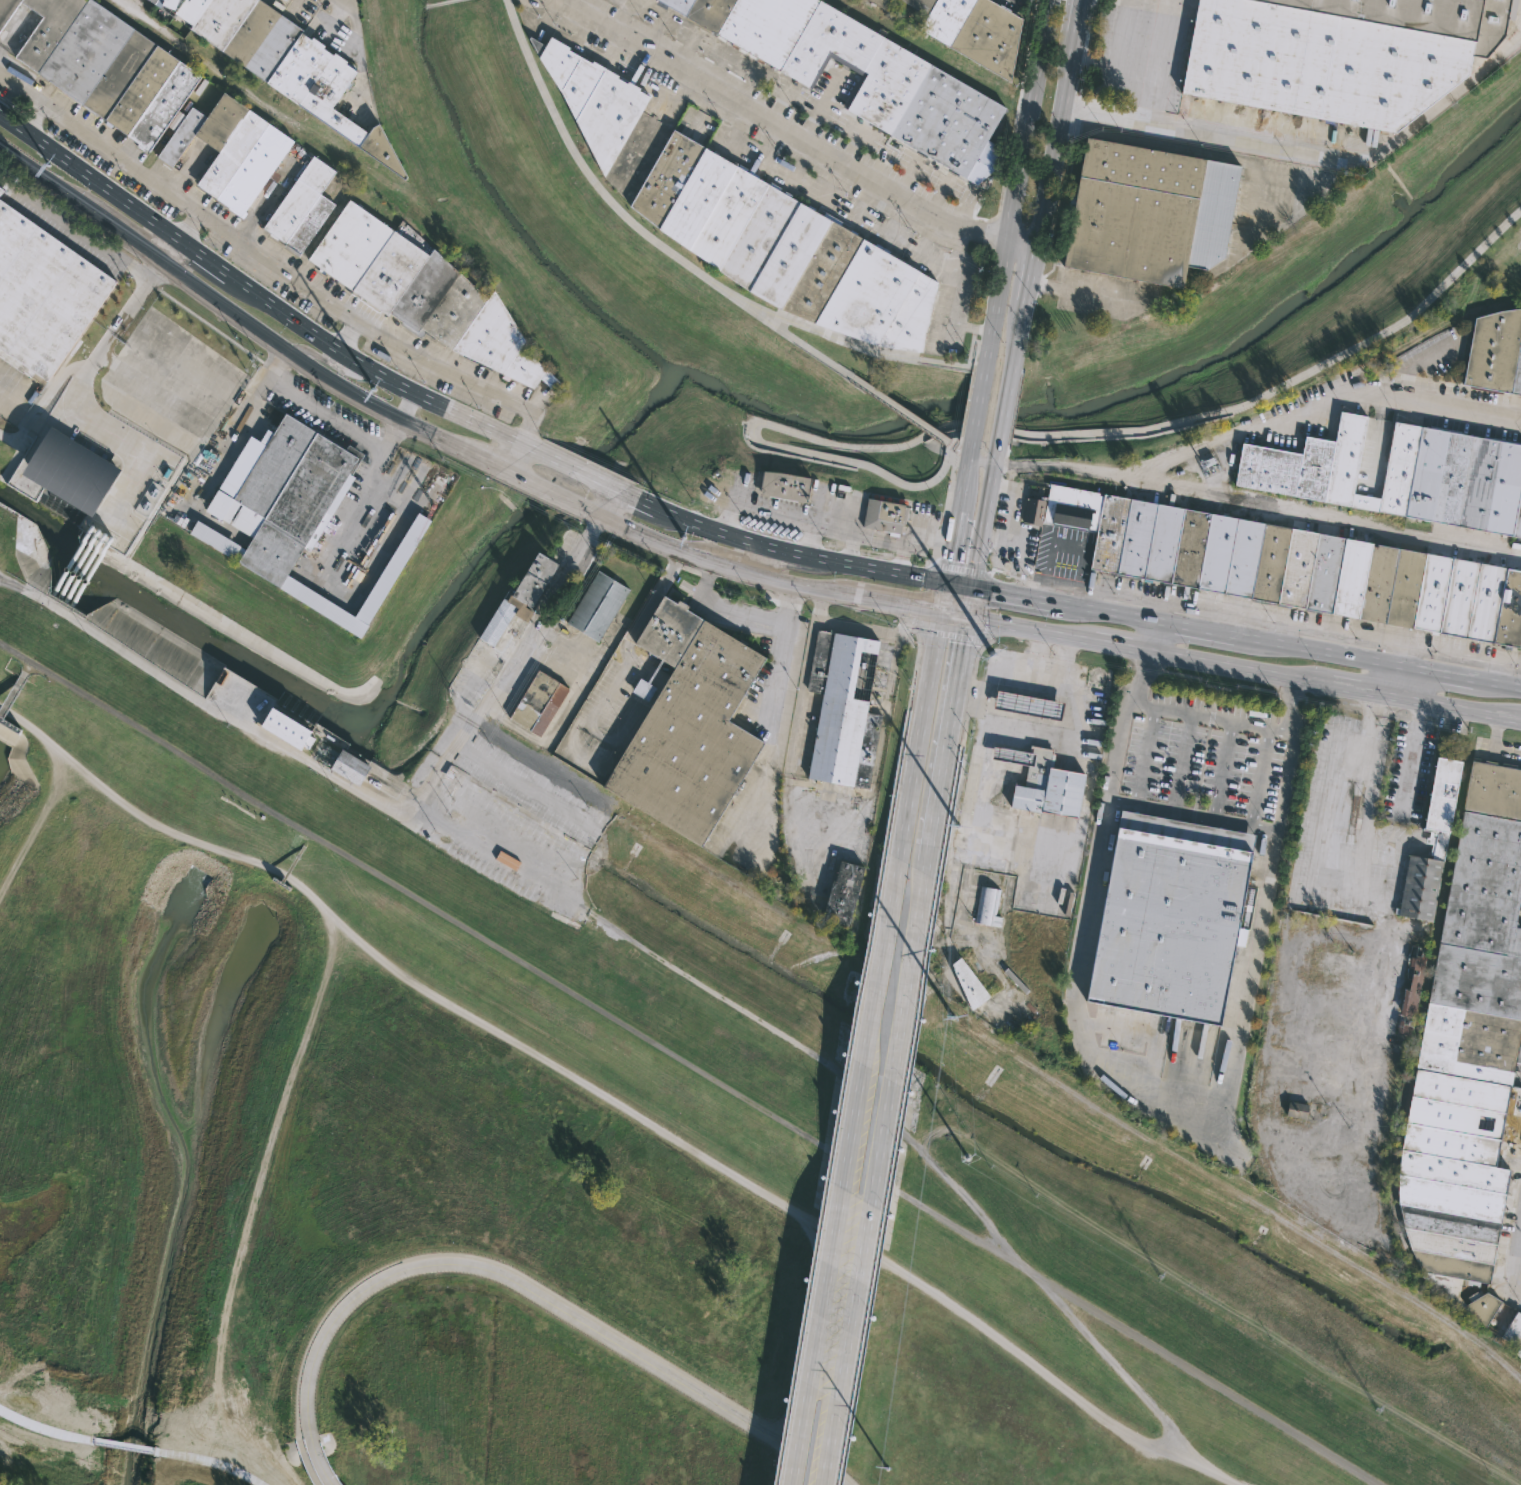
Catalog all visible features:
building: (152, 1)
building: (877, 3)
building: (1511, 9)
building: (7, 11)
building: (237, 29)
building: (970, 30)
road: (1160, 47)
building: (1338, 54)
road: (1112, 64)
building: (110, 67)
building: (866, 75)
road: (1460, 86)
road: (22, 88)
building: (326, 94)
building: (598, 97)
road: (781, 106)
road: (821, 109)
road: (1148, 111)
road: (791, 137)
road: (1233, 144)
road: (107, 148)
building: (234, 149)
power tower: (46, 164)
road: (1018, 183)
road: (1047, 186)
road: (599, 191)
building: (305, 205)
building: (1142, 210)
building: (787, 247)
road: (170, 248)
road: (264, 258)
building: (44, 293)
road: (262, 293)
building: (424, 293)
road: (135, 298)
road: (254, 326)
road: (800, 340)
road: (976, 346)
building: (1494, 352)
road: (885, 353)
road: (332, 364)
road: (445, 371)
power tower: (373, 388)
road: (889, 401)
road: (40, 402)
road: (966, 402)
road: (977, 402)
road: (8, 406)
road: (1457, 406)
road: (1004, 407)
road: (327, 415)
road: (1041, 435)
road: (1195, 446)
road: (955, 456)
road: (510, 458)
road: (981, 459)
building: (1303, 464)
building: (67, 465)
road: (580, 473)
road: (964, 473)
building: (1451, 479)
building: (785, 486)
road: (946, 495)
road: (639, 498)
road: (564, 499)
building: (1068, 507)
building: (1030, 511)
building: (298, 512)
road: (1329, 512)
building: (883, 515)
parking lot: (882, 520)
road: (709, 526)
road: (980, 531)
power tower: (682, 535)
road: (926, 536)
road: (878, 537)
road: (658, 542)
road: (937, 542)
road: (950, 545)
road: (785, 550)
road: (934, 555)
road: (758, 560)
traffic signals: (947, 561)
road: (959, 567)
road: (733, 569)
road: (874, 569)
power tower: (3, 570)
building: (1308, 571)
road: (956, 584)
road: (806, 590)
traffic signals: (990, 591)
road: (925, 596)
road: (1016, 596)
building: (523, 598)
road: (941, 599)
road: (790, 604)
building: (601, 605)
road: (981, 606)
road: (547, 607)
road: (899, 608)
traffic signals: (915, 611)
road: (1111, 614)
road: (951, 617)
road: (784, 621)
road: (937, 624)
road: (962, 628)
road: (1024, 630)
road: (1196, 631)
road: (950, 635)
road: (1155, 639)
traffic signals: (960, 643)
road: (1119, 648)
road: (1317, 654)
power tower: (991, 655)
road: (1148, 661)
road: (1238, 670)
road: (914, 671)
road: (1025, 675)
road: (1437, 675)
building: (651, 684)
road: (1399, 684)
road: (1497, 686)
road: (1291, 688)
road: (968, 691)
road: (1360, 692)
building: (541, 702)
building: (1024, 704)
gas station: (1024, 704)
building: (841, 709)
road: (1458, 710)
power tower: (237, 711)
road: (565, 711)
road: (922, 713)
road: (1210, 713)
road: (947, 716)
building: (689, 725)
building: (288, 729)
road: (1146, 752)
road: (979, 756)
road: (1409, 756)
road: (1181, 759)
building: (349, 767)
road: (1225, 768)
road: (1260, 775)
building: (1040, 782)
road: (406, 811)
road: (1190, 812)
power tower: (957, 828)
road: (928, 829)
power tower: (444, 839)
building: (1435, 839)
building: (838, 893)
railway: (762, 904)
building: (987, 907)
building: (1165, 916)
power tower: (632, 953)
road: (880, 963)
building: (959, 985)
building: (1410, 993)
road: (900, 998)
power tower: (950, 1017)
building: (1466, 1050)
road: (686, 1062)
power tower: (840, 1081)
road: (1157, 1089)
road: (839, 1099)
road: (611, 1100)
building: (1297, 1110)
road: (899, 1116)
power tower: (903, 1120)
park: (537, 1150)
road: (831, 1253)
road: (1516, 1253)
road: (1012, 1257)
power tower: (1162, 1275)
road: (533, 1282)
road: (1518, 1283)
road: (536, 1295)
road: (849, 1310)
building: (1514, 1333)
power tower: (1379, 1408)
road: (801, 1429)
power tower: (887, 1467)
road: (317, 1468)
road: (308, 1471)

